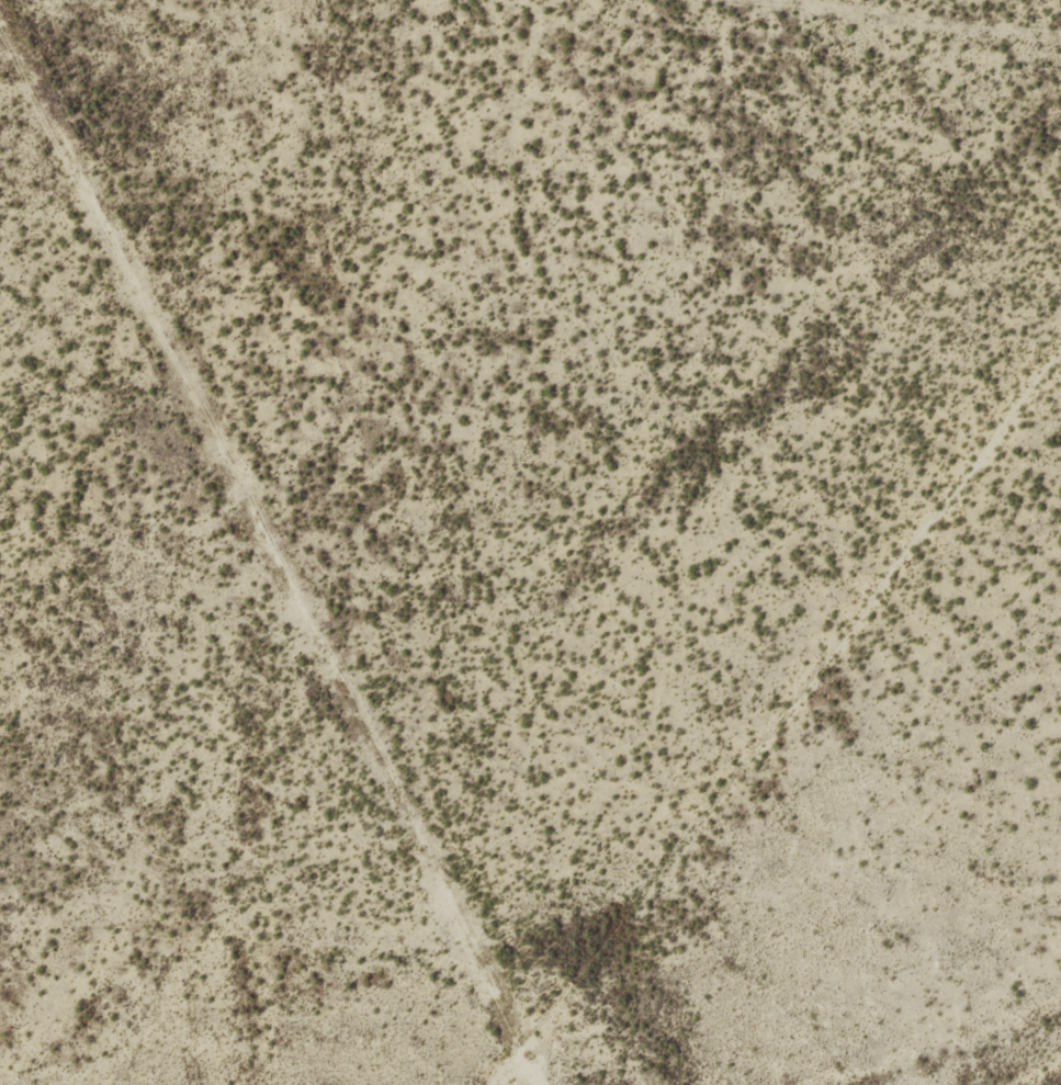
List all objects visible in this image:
road: (1043, 1077)

